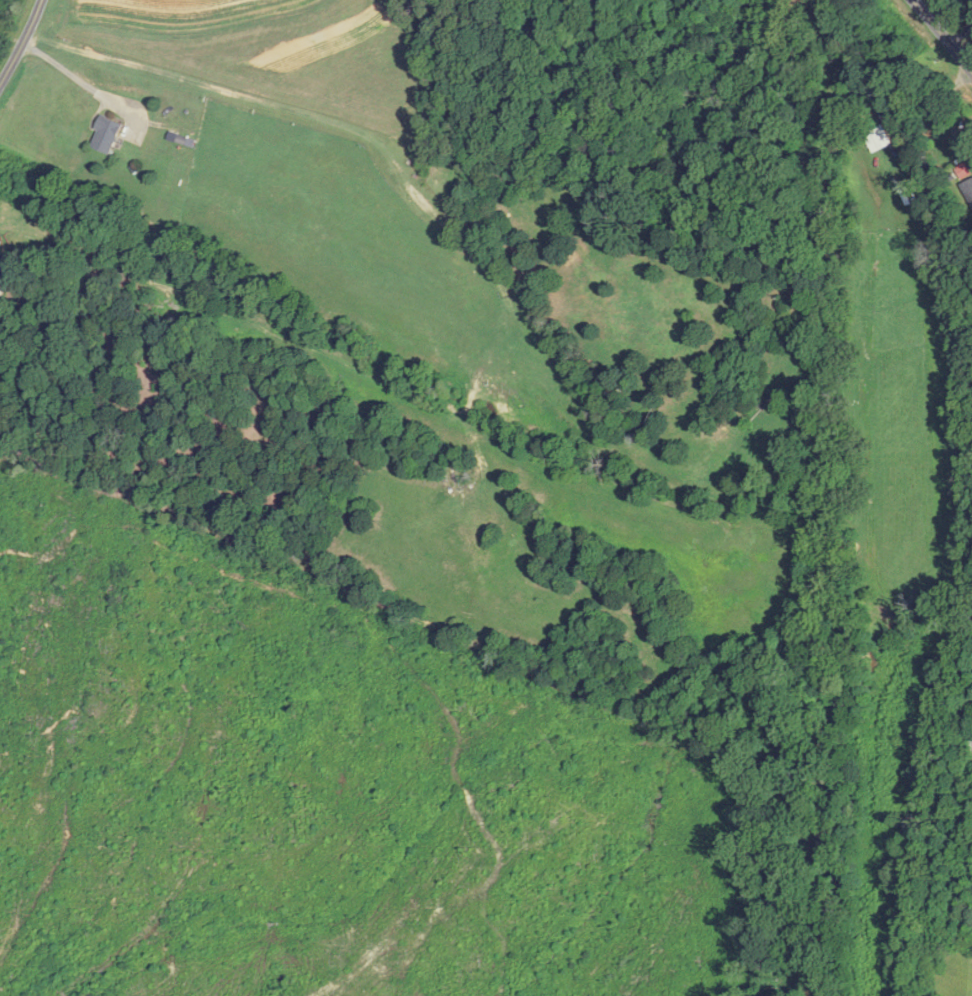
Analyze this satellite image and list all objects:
road: (946, 9)
road: (942, 35)
road: (23, 44)
road: (68, 72)
building: (109, 134)
building: (968, 189)

